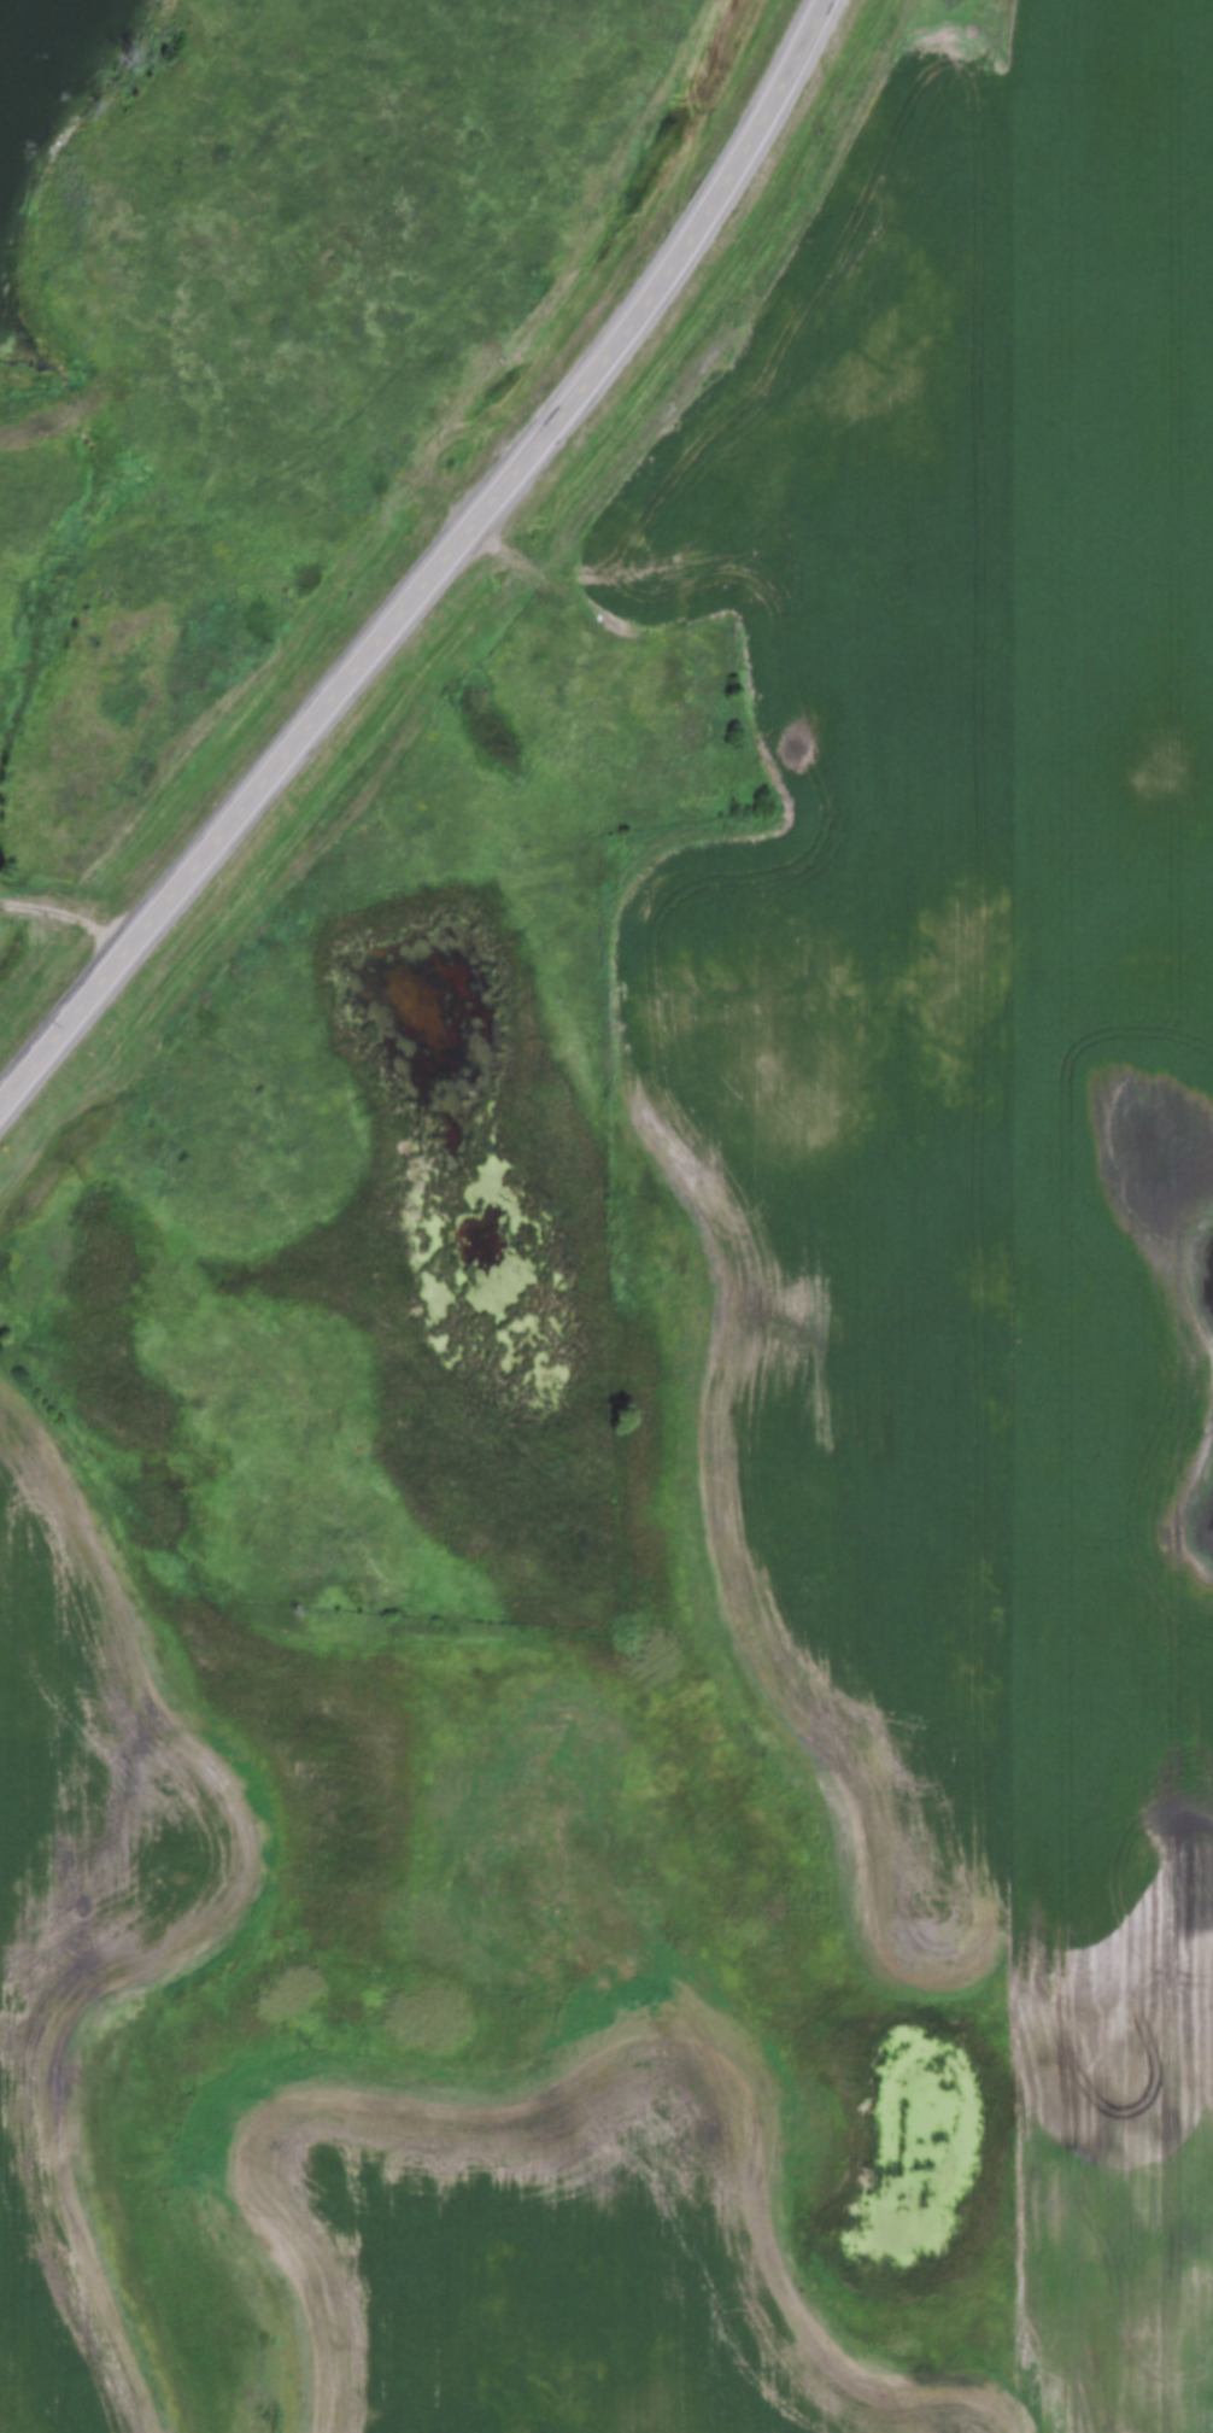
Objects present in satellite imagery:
road: (438, 568)
road: (65, 914)

